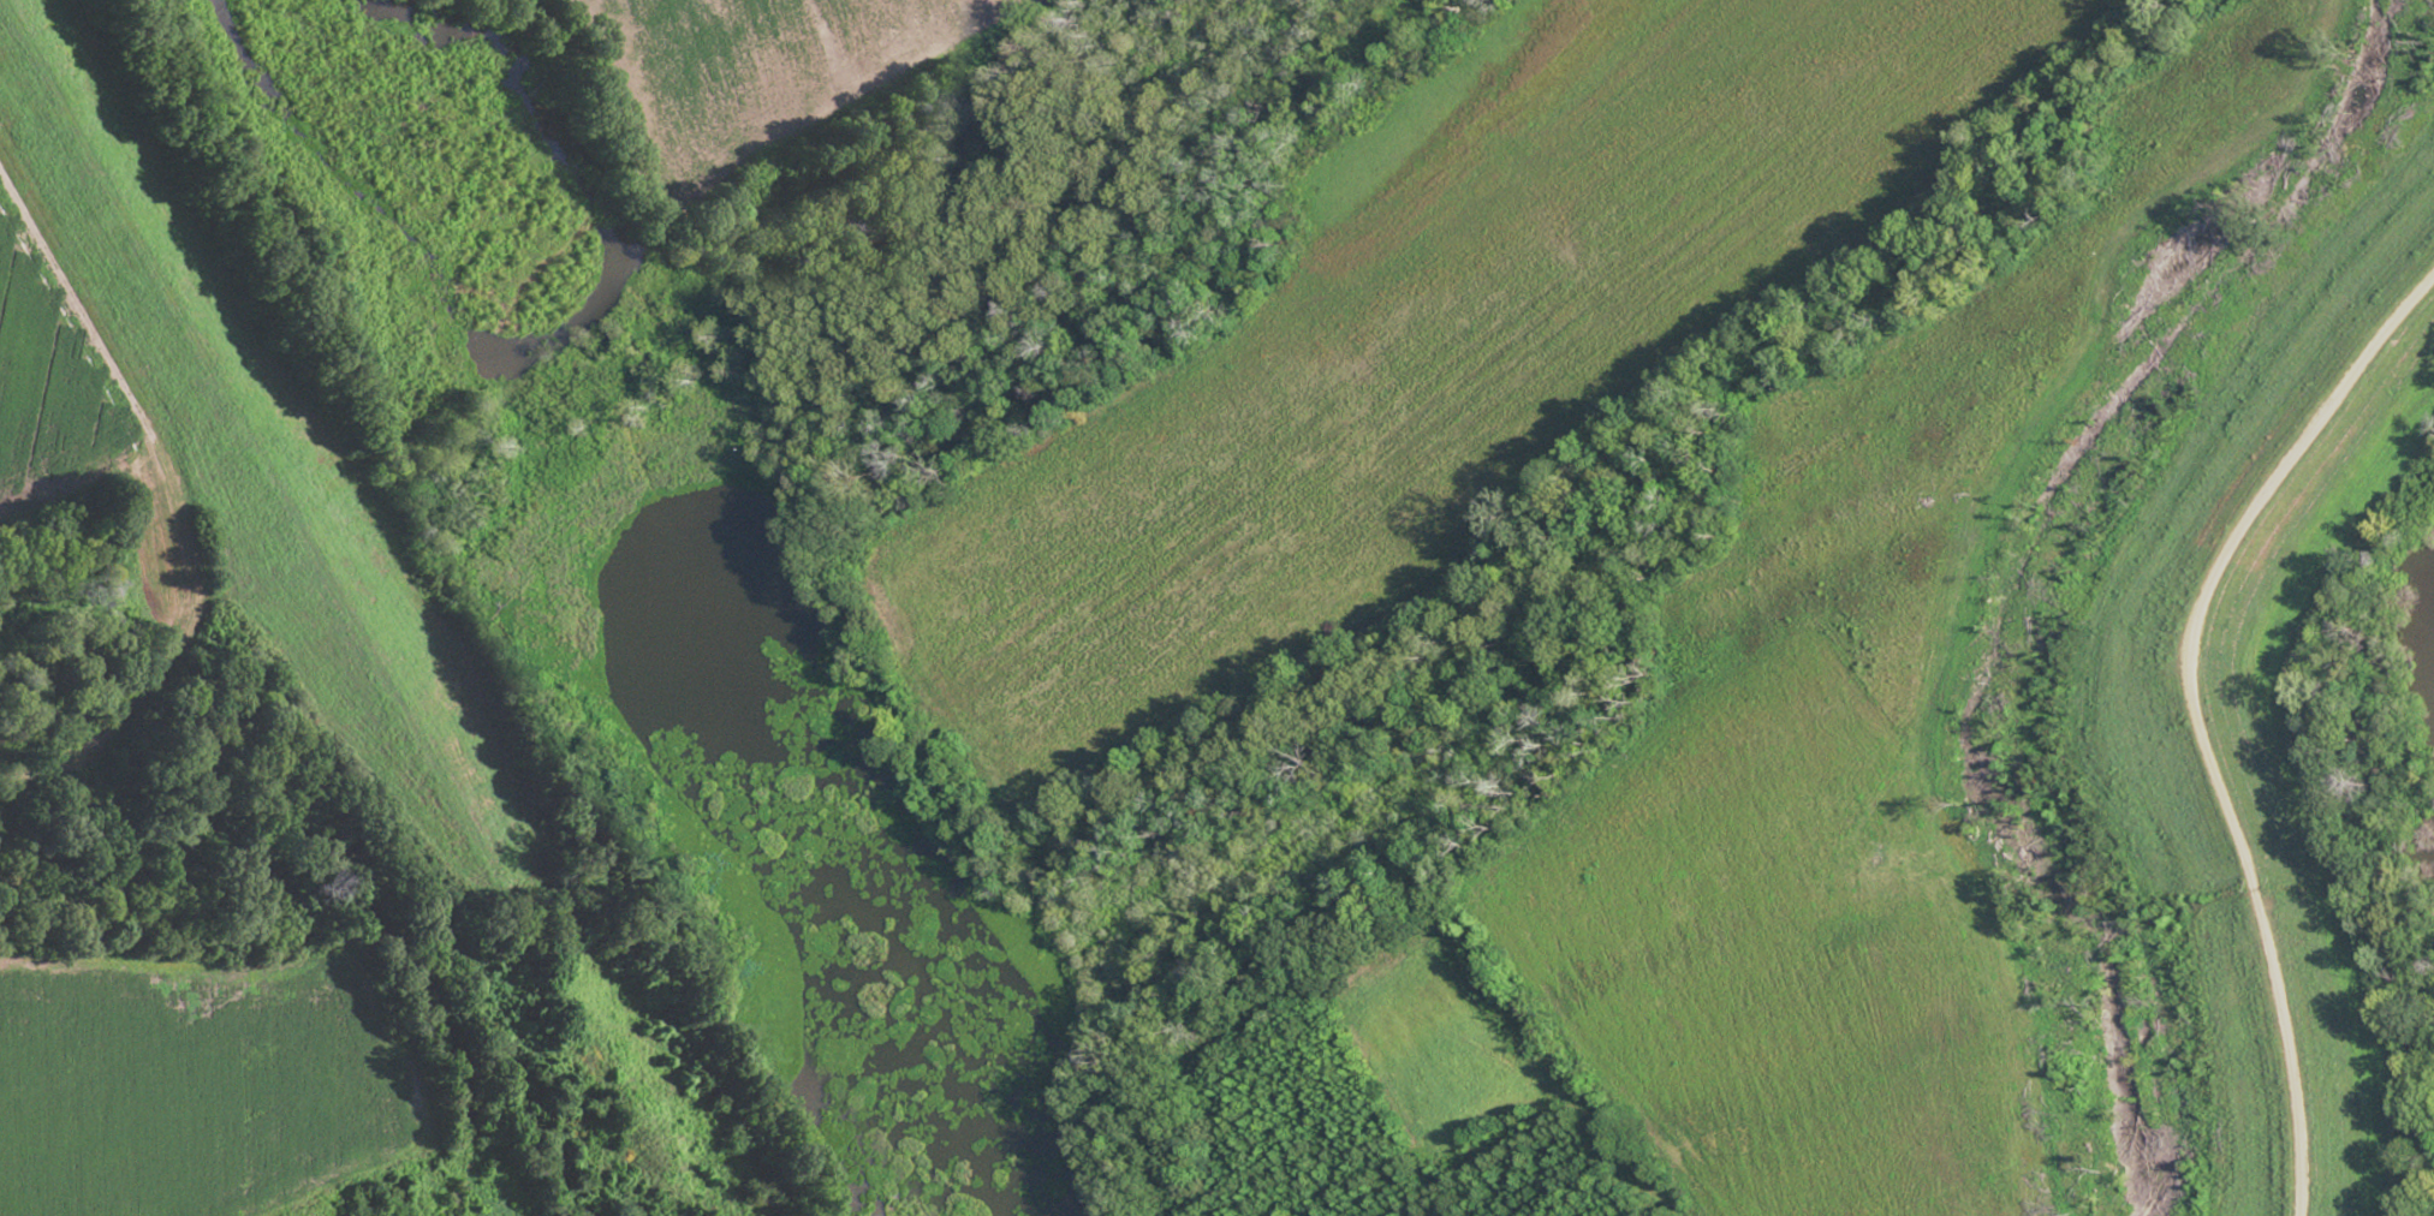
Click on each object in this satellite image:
road: (50, 472)
road: (76, 491)
road: (270, 701)
road: (2198, 714)

